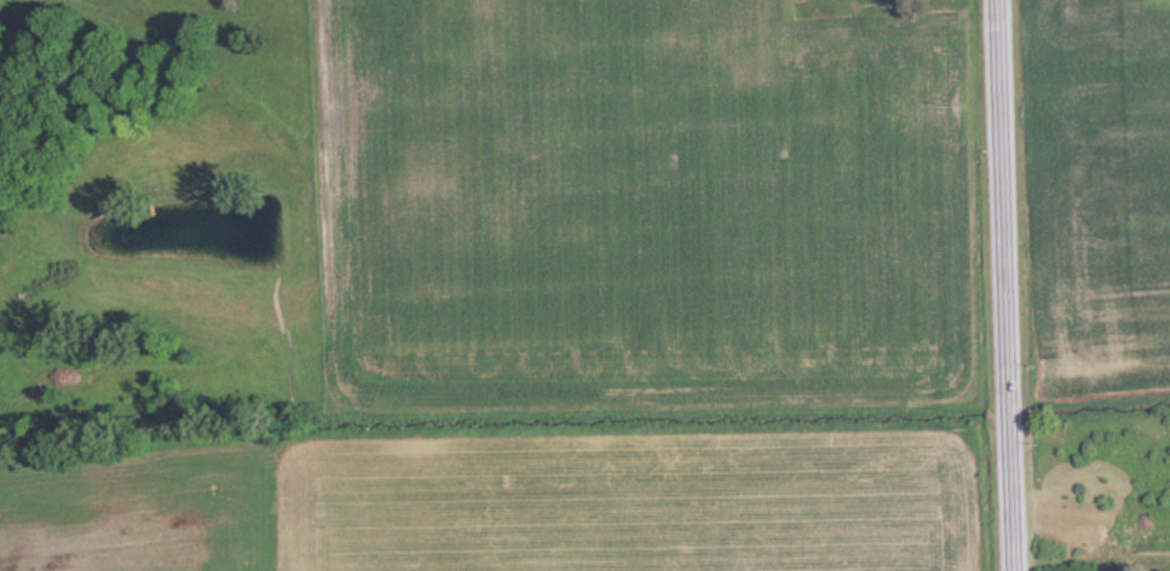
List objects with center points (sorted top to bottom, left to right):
road: (1007, 285)

